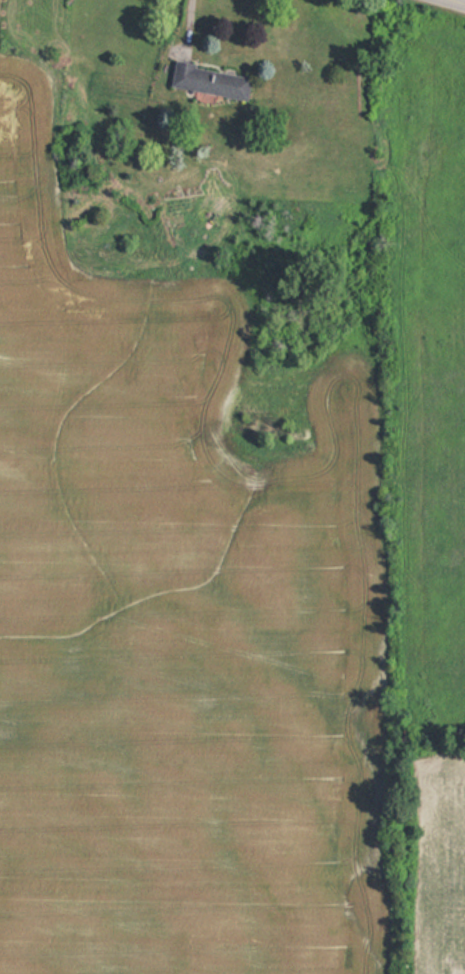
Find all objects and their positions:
road: (459, 1)
building: (209, 81)

